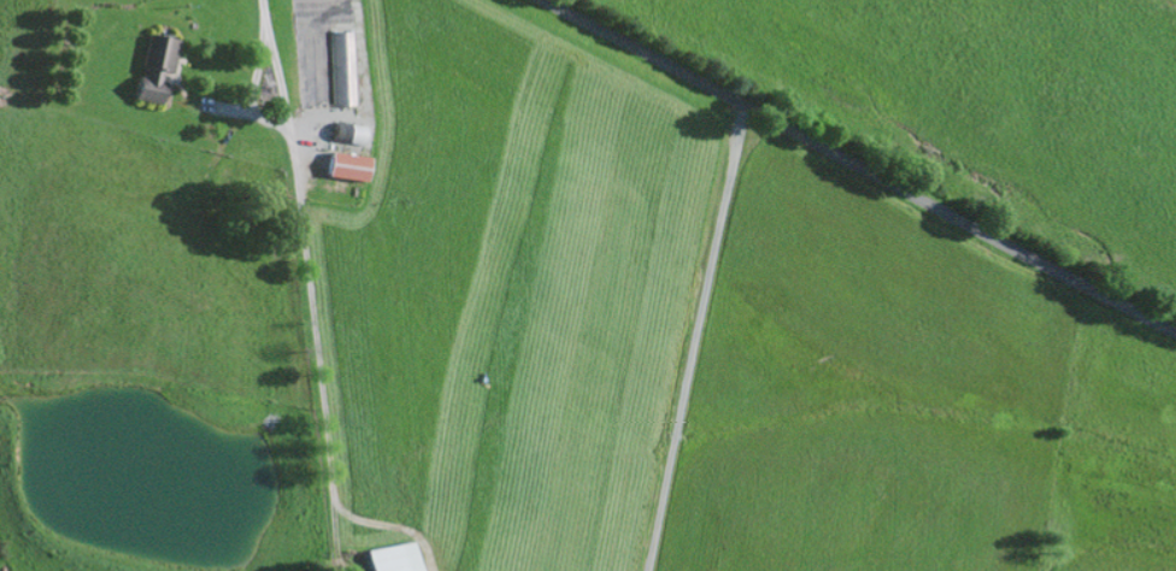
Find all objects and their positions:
road: (259, 53)
building: (155, 65)
building: (342, 67)
building: (348, 130)
building: (348, 164)
road: (860, 165)
road: (694, 336)
building: (394, 557)

